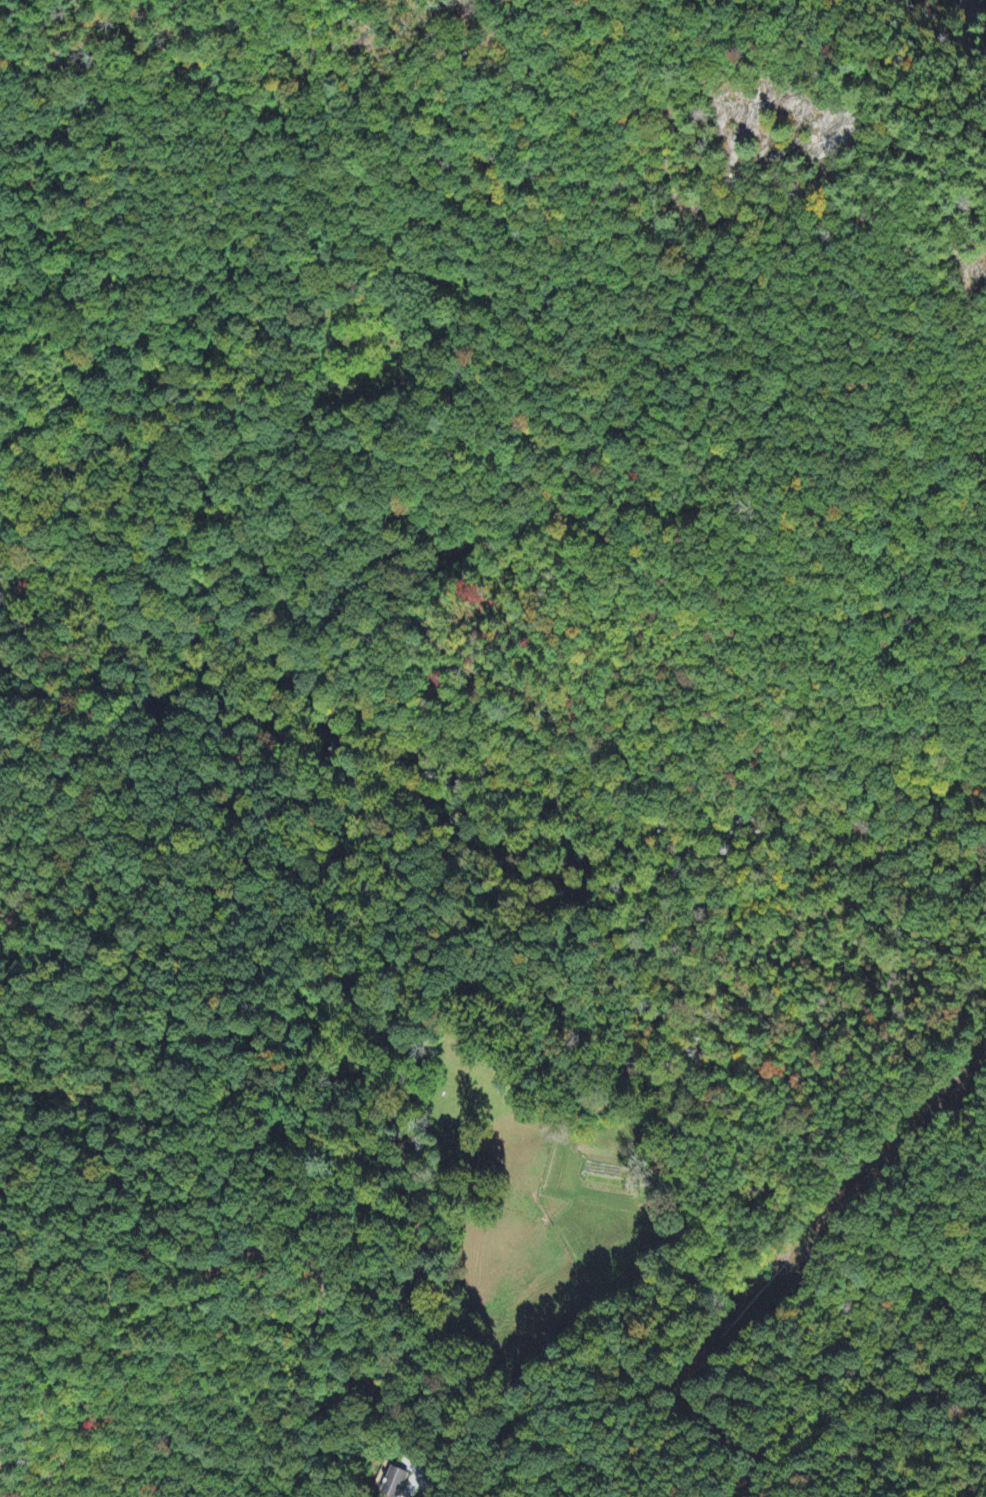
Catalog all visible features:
road: (865, 857)
road: (756, 911)
road: (321, 1314)
road: (730, 1435)
building: (394, 1484)

